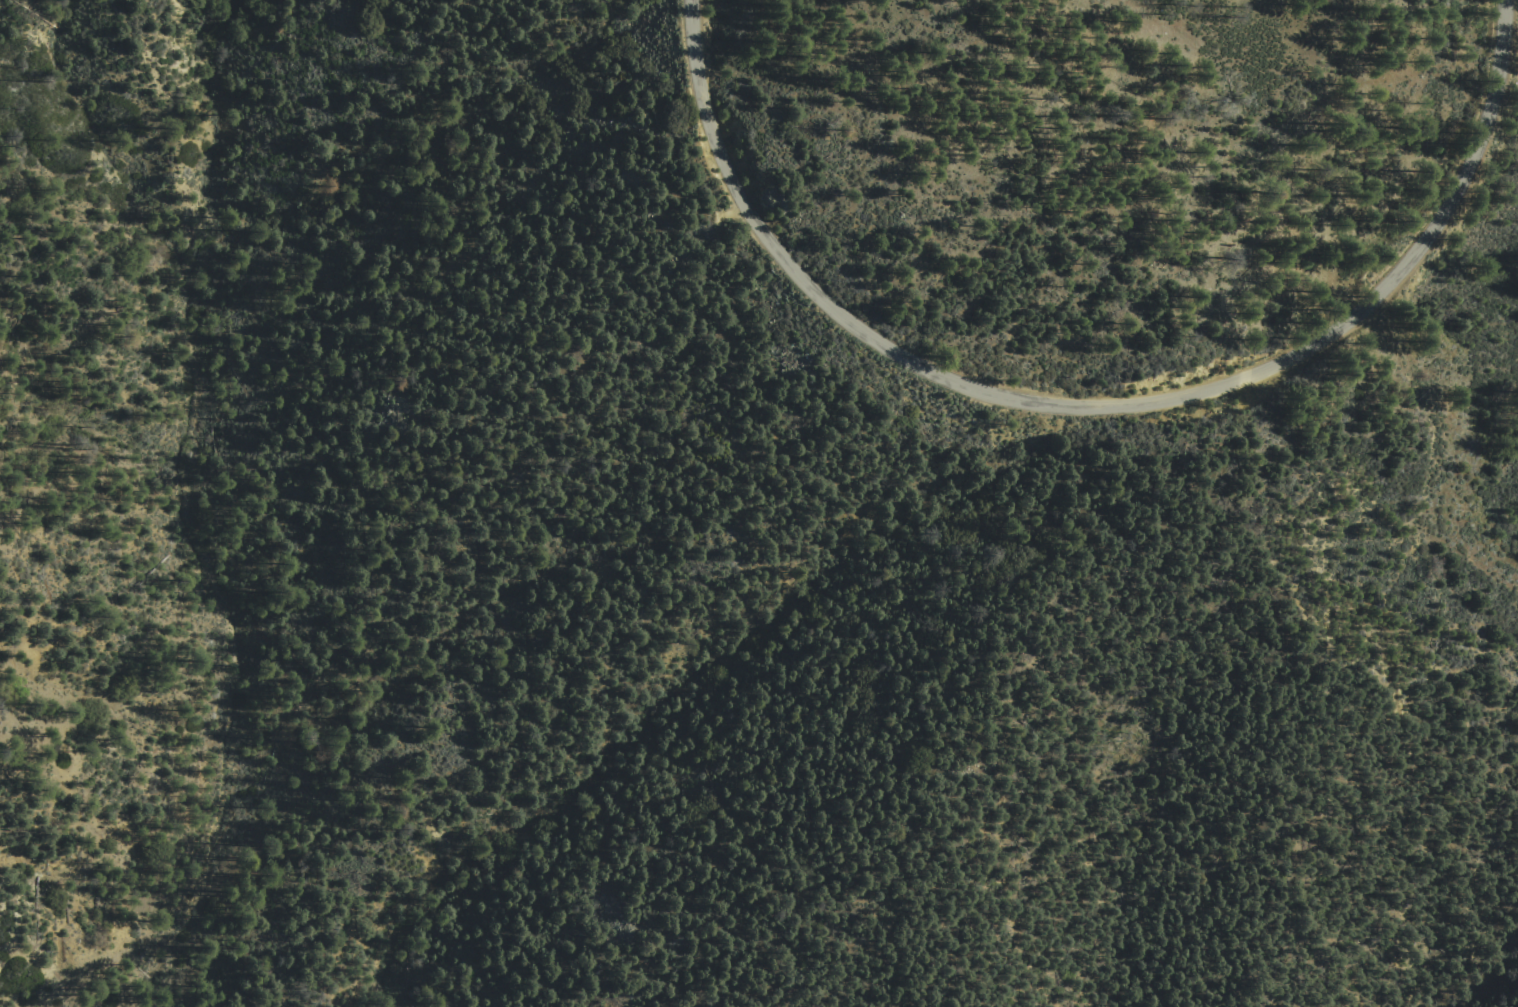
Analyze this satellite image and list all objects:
road: (1100, 406)

